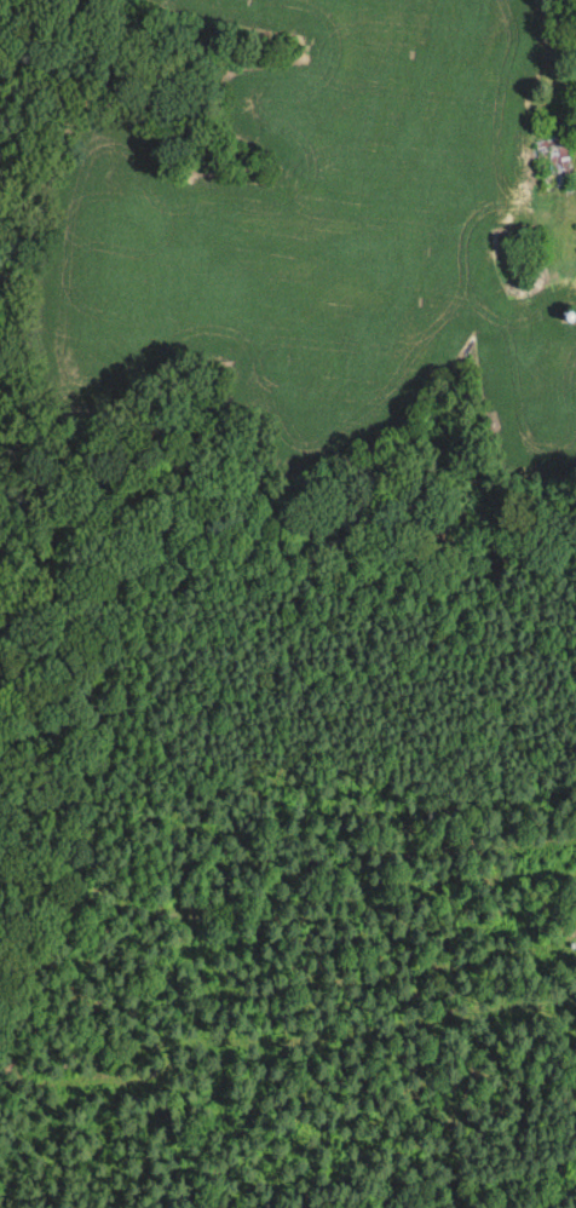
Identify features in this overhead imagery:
building: (554, 165)

